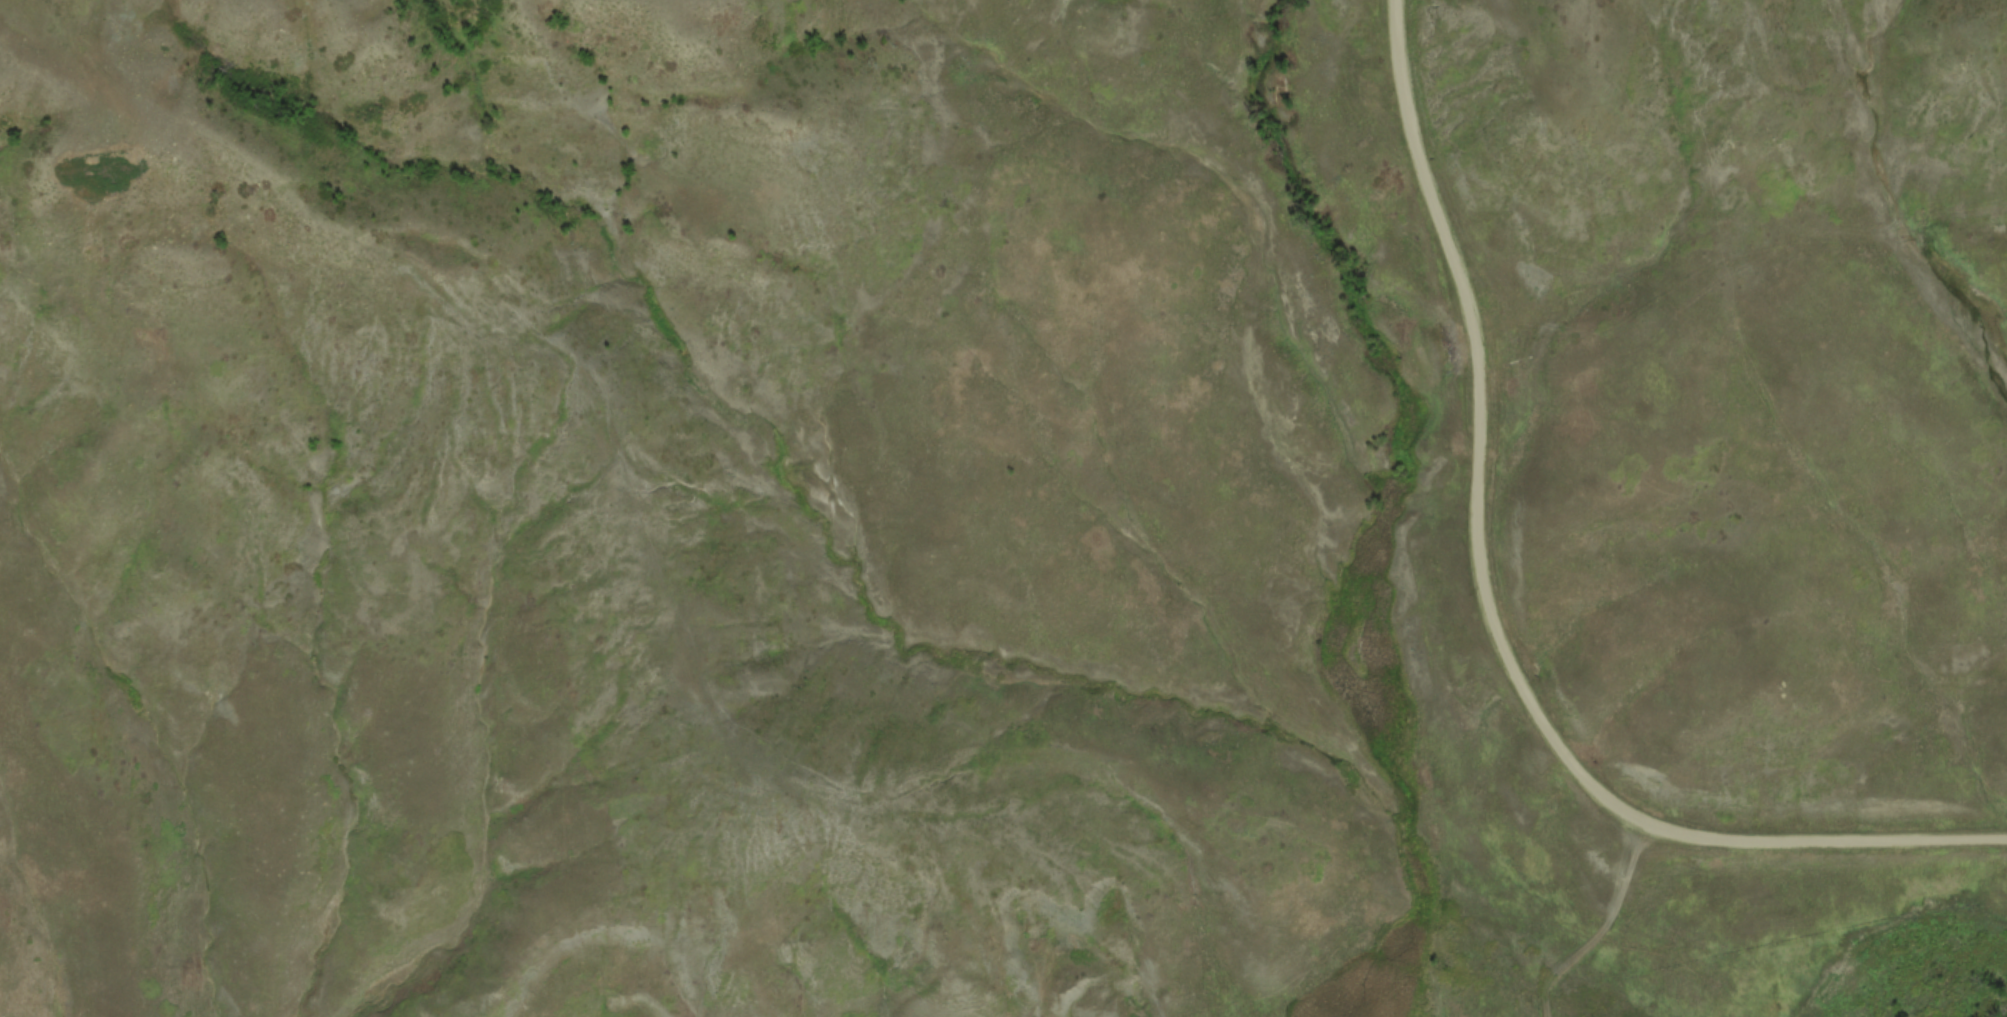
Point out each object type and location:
road: (1497, 613)

